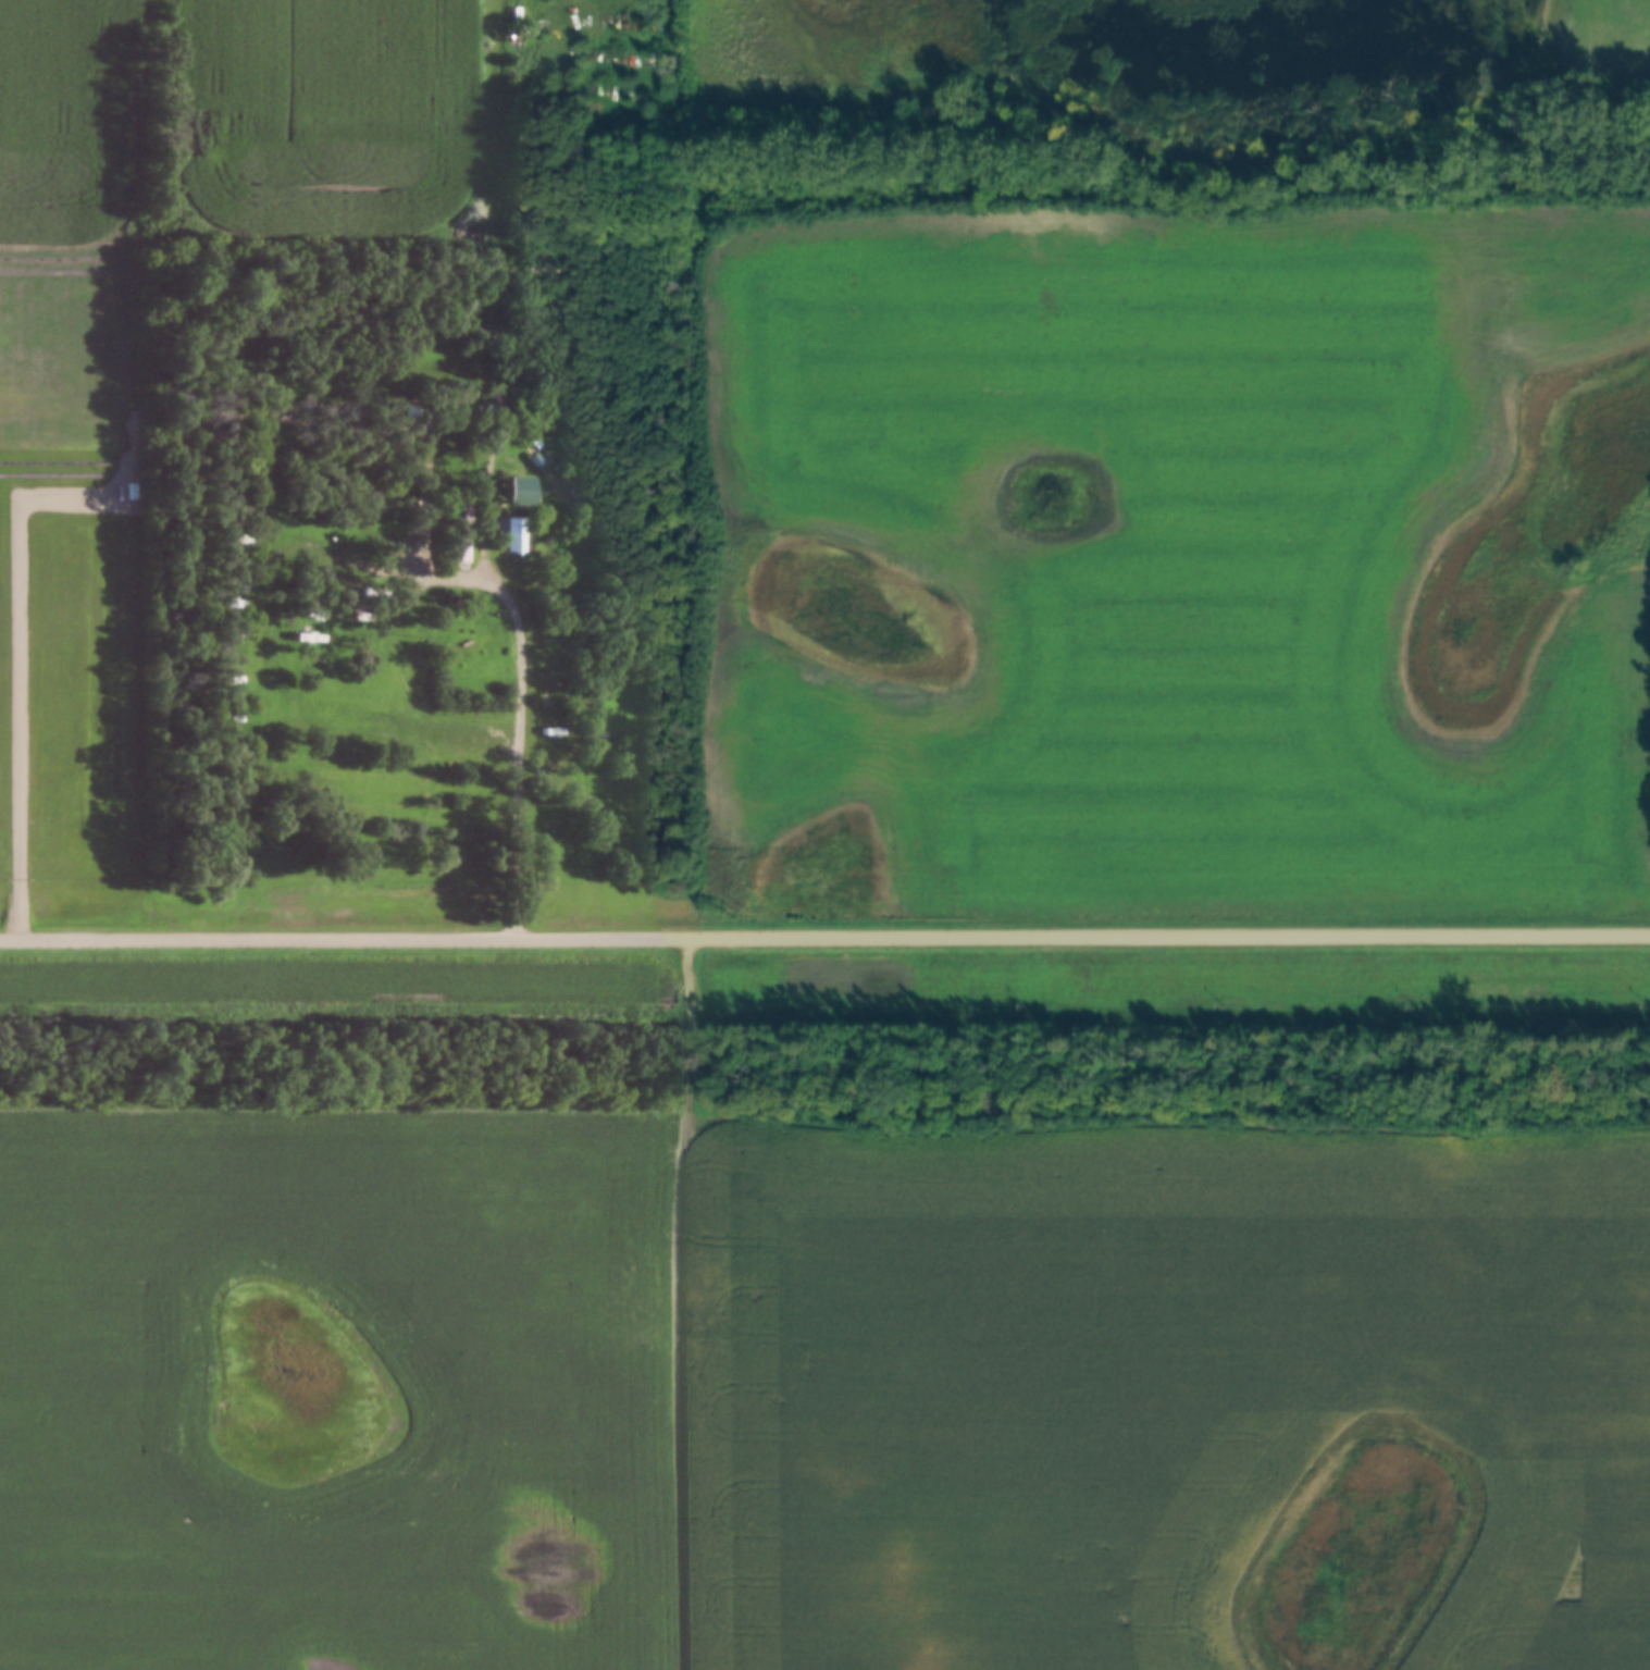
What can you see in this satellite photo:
building: (458, 535)
building: (512, 535)
road: (11, 681)
road: (412, 688)
road: (824, 940)
road: (679, 1304)

